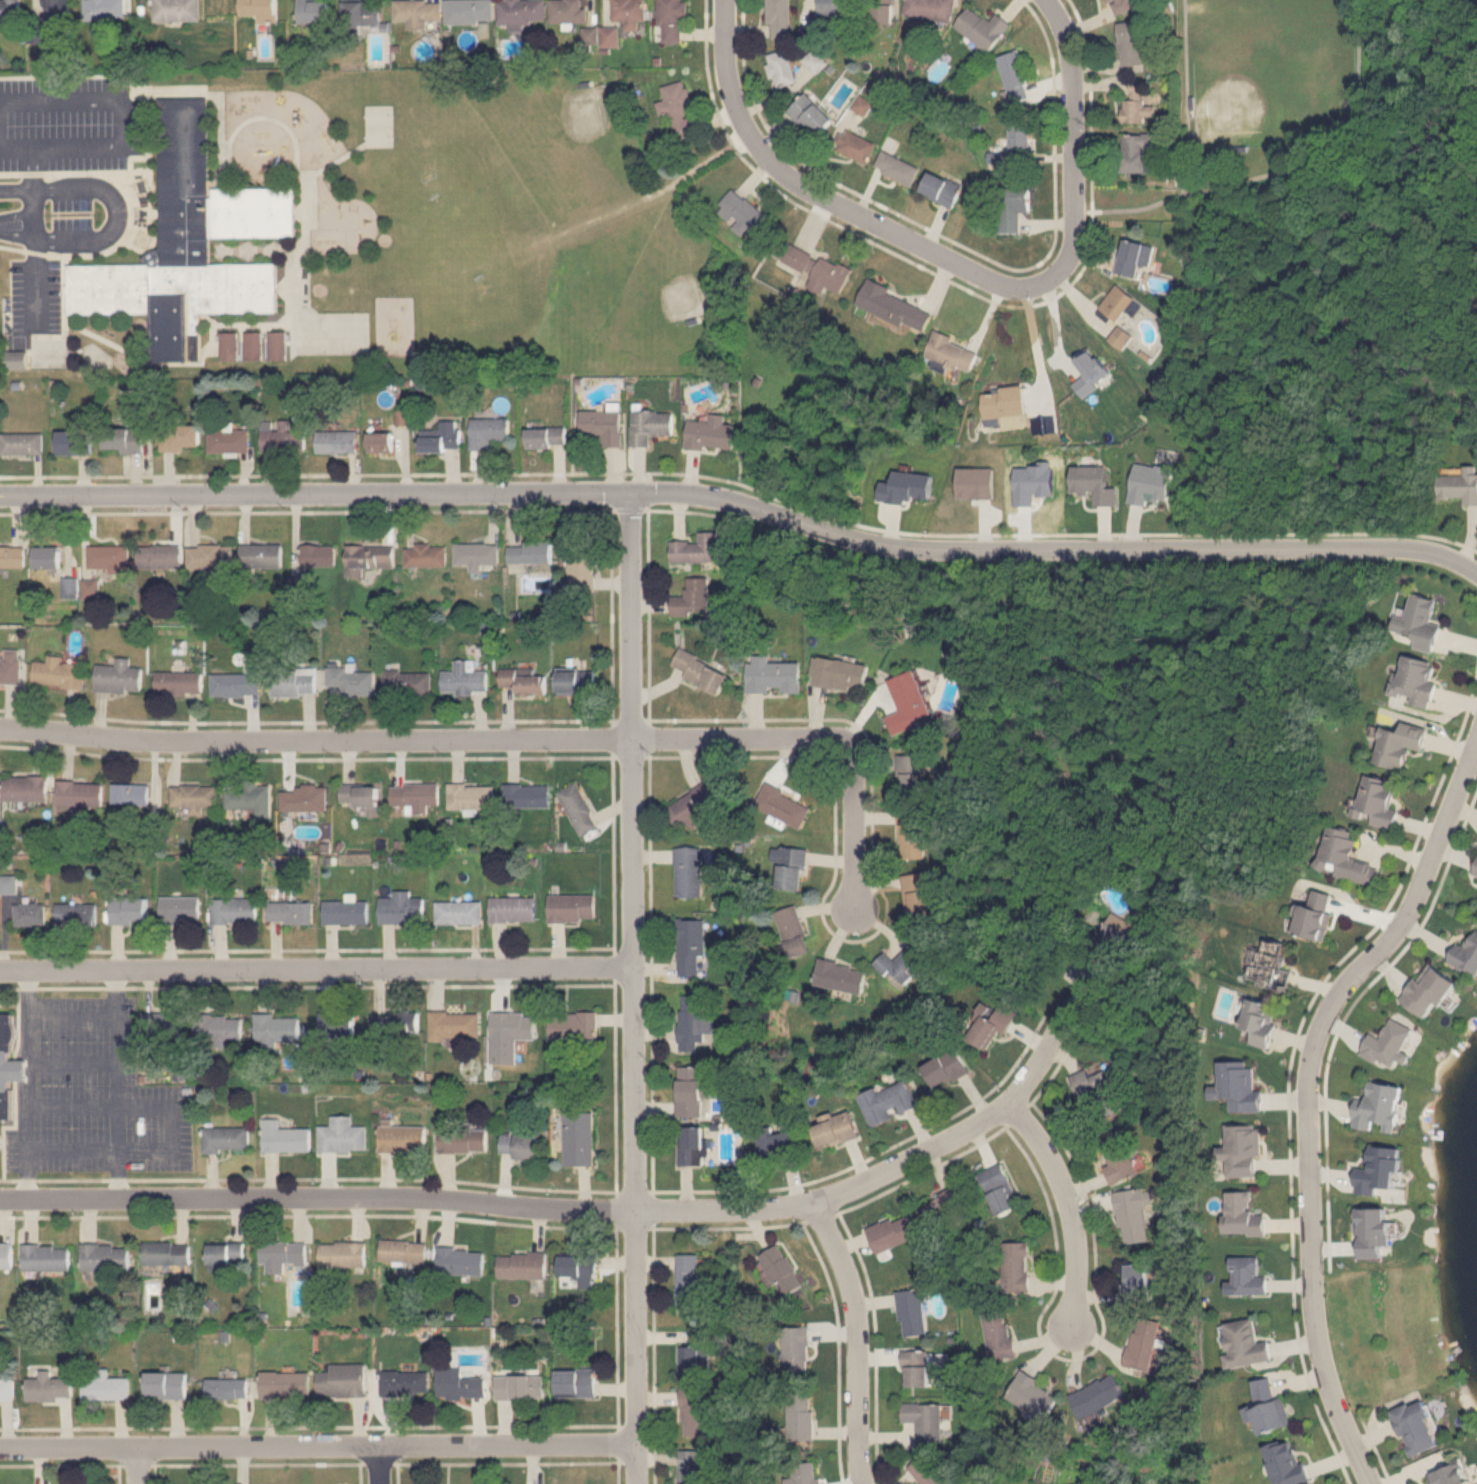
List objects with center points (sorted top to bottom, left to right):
building: (1121, 6)
building: (834, 8)
building: (932, 9)
building: (103, 10)
building: (176, 11)
building: (313, 11)
building: (567, 11)
building: (260, 12)
building: (469, 12)
building: (629, 12)
building: (879, 12)
building: (59, 13)
building: (417, 13)
building: (521, 13)
building: (10, 14)
building: (362, 15)
building: (780, 19)
building: (672, 20)
building: (984, 28)
building: (609, 37)
building: (590, 38)
building: (1131, 43)
building: (816, 61)
building: (781, 68)
park: (1271, 70)
building: (1016, 76)
road: (1188, 99)
building: (1141, 102)
building: (864, 105)
road: (122, 107)
building: (678, 111)
building: (812, 115)
park: (378, 125)
park: (567, 132)
building: (1021, 138)
building: (857, 146)
road: (1075, 146)
road: (16, 152)
building: (1139, 153)
building: (899, 168)
road: (1290, 169)
road: (33, 171)
building: (943, 189)
road: (824, 196)
building: (1014, 208)
building: (744, 214)
road: (118, 216)
park: (450, 244)
building: (190, 245)
road: (561, 255)
building: (1135, 257)
building: (817, 269)
park: (647, 278)
building: (1119, 303)
building: (896, 307)
park: (332, 333)
building: (1122, 338)
road: (1030, 344)
building: (228, 346)
building: (253, 346)
building: (278, 346)
building: (952, 352)
building: (16, 360)
building: (1006, 402)
building: (1098, 420)
building: (604, 425)
building: (651, 426)
building: (489, 432)
building: (711, 433)
building: (181, 437)
building: (547, 437)
building: (283, 438)
building: (442, 438)
building: (124, 440)
building: (229, 440)
building: (22, 441)
building: (337, 441)
building: (75, 443)
building: (381, 443)
building: (1093, 481)
building: (1150, 482)
building: (1460, 486)
road: (744, 503)
building: (697, 548)
building: (532, 551)
building: (427, 554)
building: (477, 554)
building: (161, 555)
building: (262, 555)
building: (320, 555)
building: (371, 555)
building: (12, 556)
building: (46, 556)
building: (209, 556)
building: (109, 558)
building: (582, 568)
building: (70, 587)
building: (693, 598)
building: (1417, 621)
building: (11, 666)
building: (701, 671)
building: (59, 673)
building: (839, 673)
building: (774, 675)
building: (119, 677)
building: (465, 679)
building: (353, 680)
building: (1415, 680)
building: (525, 681)
building: (577, 681)
building: (294, 682)
building: (179, 683)
building: (407, 683)
building: (236, 684)
building: (908, 702)
road: (423, 739)
building: (1400, 744)
building: (913, 775)
building: (26, 788)
building: (469, 793)
building: (81, 794)
building: (131, 794)
building: (360, 794)
building: (417, 796)
building: (528, 796)
building: (194, 798)
building: (305, 798)
building: (249, 799)
building: (1378, 801)
building: (780, 803)
building: (693, 805)
building: (577, 806)
road: (858, 820)
building: (913, 835)
building: (1347, 857)
building: (791, 866)
building: (688, 869)
building: (1476, 873)
building: (1476, 874)
building: (10, 883)
building: (920, 893)
building: (572, 905)
building: (512, 906)
building: (401, 908)
building: (130, 910)
building: (180, 910)
building: (235, 910)
building: (458, 910)
building: (291, 912)
building: (347, 912)
building: (77, 913)
building: (30, 914)
building: (1316, 915)
building: (793, 931)
building: (1114, 935)
building: (691, 947)
building: (1466, 957)
building: (906, 961)
building: (1273, 965)
road: (317, 967)
building: (841, 975)
road: (634, 988)
building: (1431, 989)
road: (26, 1014)
road: (71, 1016)
building: (338, 1021)
building: (396, 1021)
building: (1262, 1021)
building: (164, 1022)
building: (579, 1023)
building: (693, 1023)
building: (451, 1024)
building: (990, 1024)
building: (277, 1025)
building: (222, 1027)
building: (507, 1036)
building: (1387, 1039)
road: (68, 1061)
building: (9, 1065)
building: (947, 1068)
road: (20, 1071)
road: (33, 1078)
road: (117, 1082)
road: (1311, 1084)
building: (1240, 1085)
parking lot: (92, 1090)
building: (1101, 1091)
building: (690, 1092)
building: (888, 1102)
building: (1382, 1112)
road: (173, 1129)
building: (836, 1129)
building: (340, 1133)
building: (283, 1136)
building: (224, 1137)
building: (401, 1137)
building: (576, 1138)
road: (24, 1139)
building: (461, 1139)
building: (519, 1145)
building: (691, 1146)
building: (779, 1146)
building: (1240, 1148)
building: (1117, 1156)
building: (1379, 1176)
building: (1001, 1189)
road: (1073, 1206)
road: (564, 1207)
building: (944, 1210)
building: (1243, 1214)
building: (1134, 1215)
building: (888, 1232)
building: (1373, 1236)
building: (392, 1249)
building: (164, 1252)
building: (218, 1252)
building: (340, 1253)
building: (5, 1254)
building: (280, 1254)
building: (103, 1256)
building: (44, 1257)
building: (467, 1262)
building: (575, 1264)
building: (521, 1265)
building: (1016, 1266)
building: (780, 1270)
building: (686, 1277)
building: (1247, 1277)
building: (1137, 1284)
building: (912, 1309)
building: (998, 1333)
road: (861, 1338)
building: (1145, 1343)
building: (1244, 1343)
building: (797, 1351)
building: (692, 1353)
building: (920, 1368)
building: (340, 1380)
building: (455, 1382)
building: (573, 1382)
building: (402, 1383)
building: (164, 1384)
building: (283, 1384)
building: (46, 1385)
building: (103, 1385)
building: (7, 1386)
building: (231, 1386)
building: (517, 1386)
building: (1032, 1394)
building: (1098, 1395)
building: (1268, 1407)
building: (694, 1409)
building: (800, 1417)
building: (926, 1420)
building: (1413, 1425)
road: (317, 1446)
building: (689, 1464)
road: (378, 1465)
road: (136, 1466)
building: (1286, 1466)
building: (931, 1470)
building: (1449, 1472)
building: (805, 1474)
building: (431, 1483)

